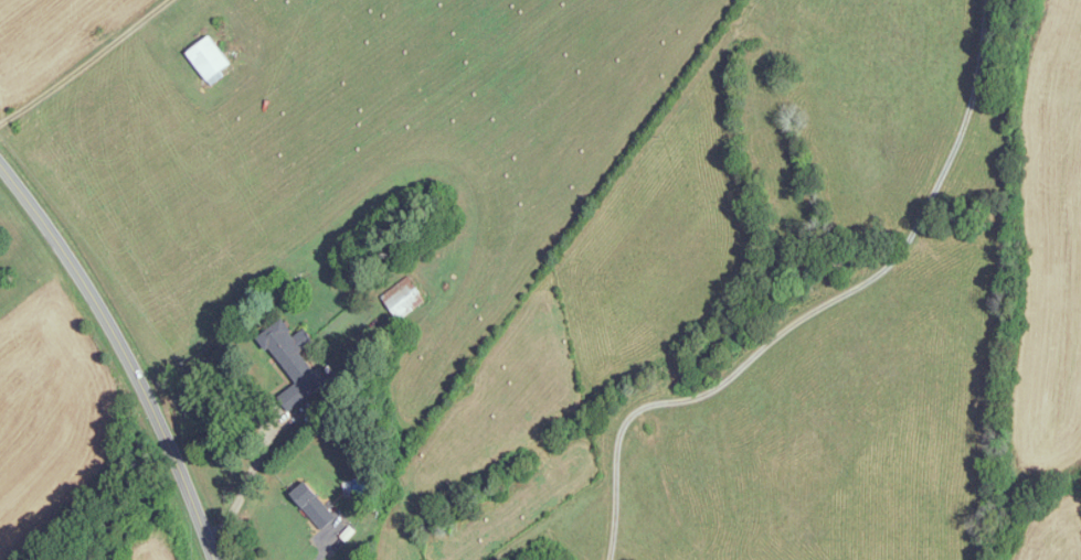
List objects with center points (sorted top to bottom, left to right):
building: (208, 57)
road: (77, 60)
road: (972, 93)
building: (403, 298)
road: (116, 355)
building: (293, 363)
road: (742, 364)
road: (245, 484)
building: (311, 506)
road: (337, 553)

